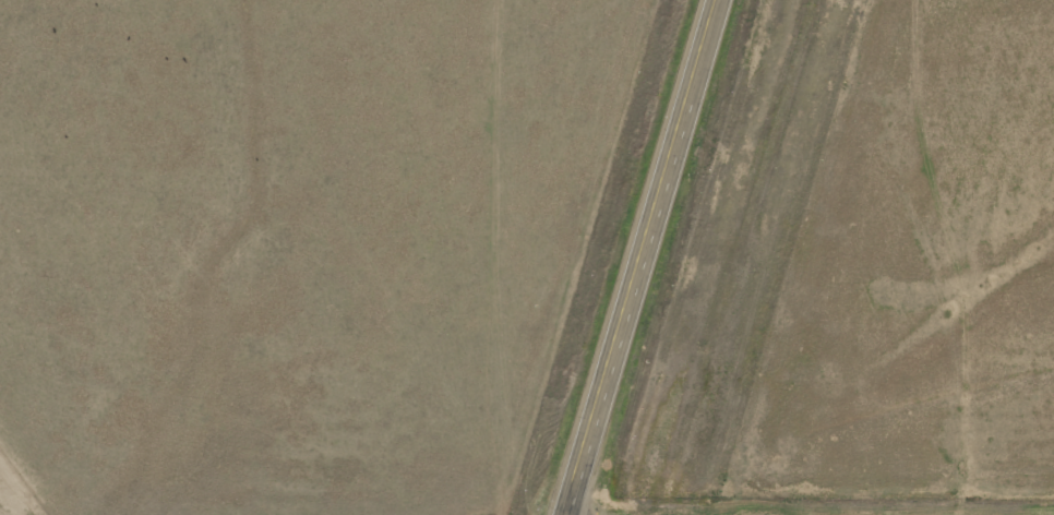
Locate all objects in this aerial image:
road: (635, 257)

